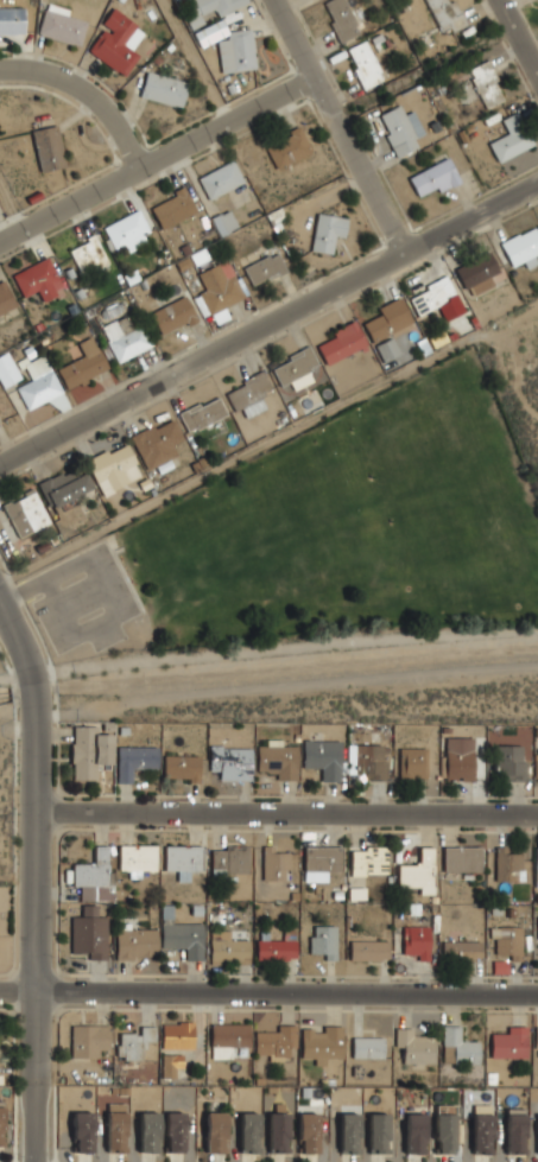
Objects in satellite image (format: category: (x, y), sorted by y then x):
building: (219, 6)
building: (445, 14)
building: (341, 19)
building: (11, 20)
building: (62, 26)
building: (209, 33)
road: (518, 36)
building: (116, 42)
building: (236, 51)
road: (196, 61)
building: (365, 64)
road: (424, 70)
building: (486, 84)
building: (163, 89)
road: (88, 91)
road: (342, 125)
building: (400, 129)
building: (511, 139)
building: (48, 148)
building: (287, 148)
road: (157, 158)
building: (435, 177)
building: (220, 179)
road: (11, 205)
building: (173, 208)
building: (223, 222)
building: (127, 230)
building: (327, 233)
building: (88, 255)
building: (264, 268)
building: (477, 274)
building: (37, 279)
building: (217, 288)
building: (5, 299)
building: (437, 299)
building: (172, 316)
building: (387, 319)
road: (268, 323)
building: (125, 337)
building: (342, 343)
building: (387, 349)
road: (508, 360)
building: (83, 364)
building: (7, 370)
building: (293, 372)
building: (42, 386)
building: (248, 395)
building: (202, 414)
building: (157, 443)
building: (113, 468)
building: (65, 485)
building: (25, 513)
park: (316, 540)
road: (19, 590)
parking lot: (84, 599)
road: (128, 608)
road: (15, 635)
road: (296, 650)
road: (27, 680)
road: (33, 699)
building: (88, 751)
building: (322, 757)
building: (458, 758)
building: (277, 760)
building: (134, 761)
building: (369, 761)
building: (230, 762)
building: (509, 762)
building: (412, 763)
building: (536, 764)
building: (181, 767)
road: (286, 812)
building: (137, 857)
building: (322, 858)
building: (229, 859)
building: (461, 859)
building: (182, 861)
building: (368, 861)
building: (274, 864)
building: (508, 865)
building: (537, 868)
building: (418, 871)
building: (94, 877)
building: (537, 920)
building: (89, 933)
building: (182, 936)
building: (323, 941)
building: (416, 941)
building: (134, 942)
building: (508, 944)
road: (32, 945)
building: (227, 946)
building: (277, 947)
building: (368, 950)
building: (461, 950)
road: (15, 991)
road: (285, 992)
building: (177, 1035)
building: (229, 1035)
building: (537, 1037)
building: (88, 1040)
building: (276, 1042)
building: (134, 1043)
building: (322, 1043)
building: (509, 1043)
building: (367, 1047)
building: (414, 1047)
building: (458, 1047)
building: (170, 1065)
building: (537, 1113)
building: (0, 1124)
building: (115, 1126)
building: (82, 1132)
building: (148, 1132)
building: (175, 1132)
building: (215, 1132)
building: (248, 1132)
building: (278, 1132)
building: (308, 1132)
building: (378, 1132)
building: (348, 1134)
building: (414, 1134)
building: (444, 1134)
building: (481, 1134)
building: (514, 1134)

